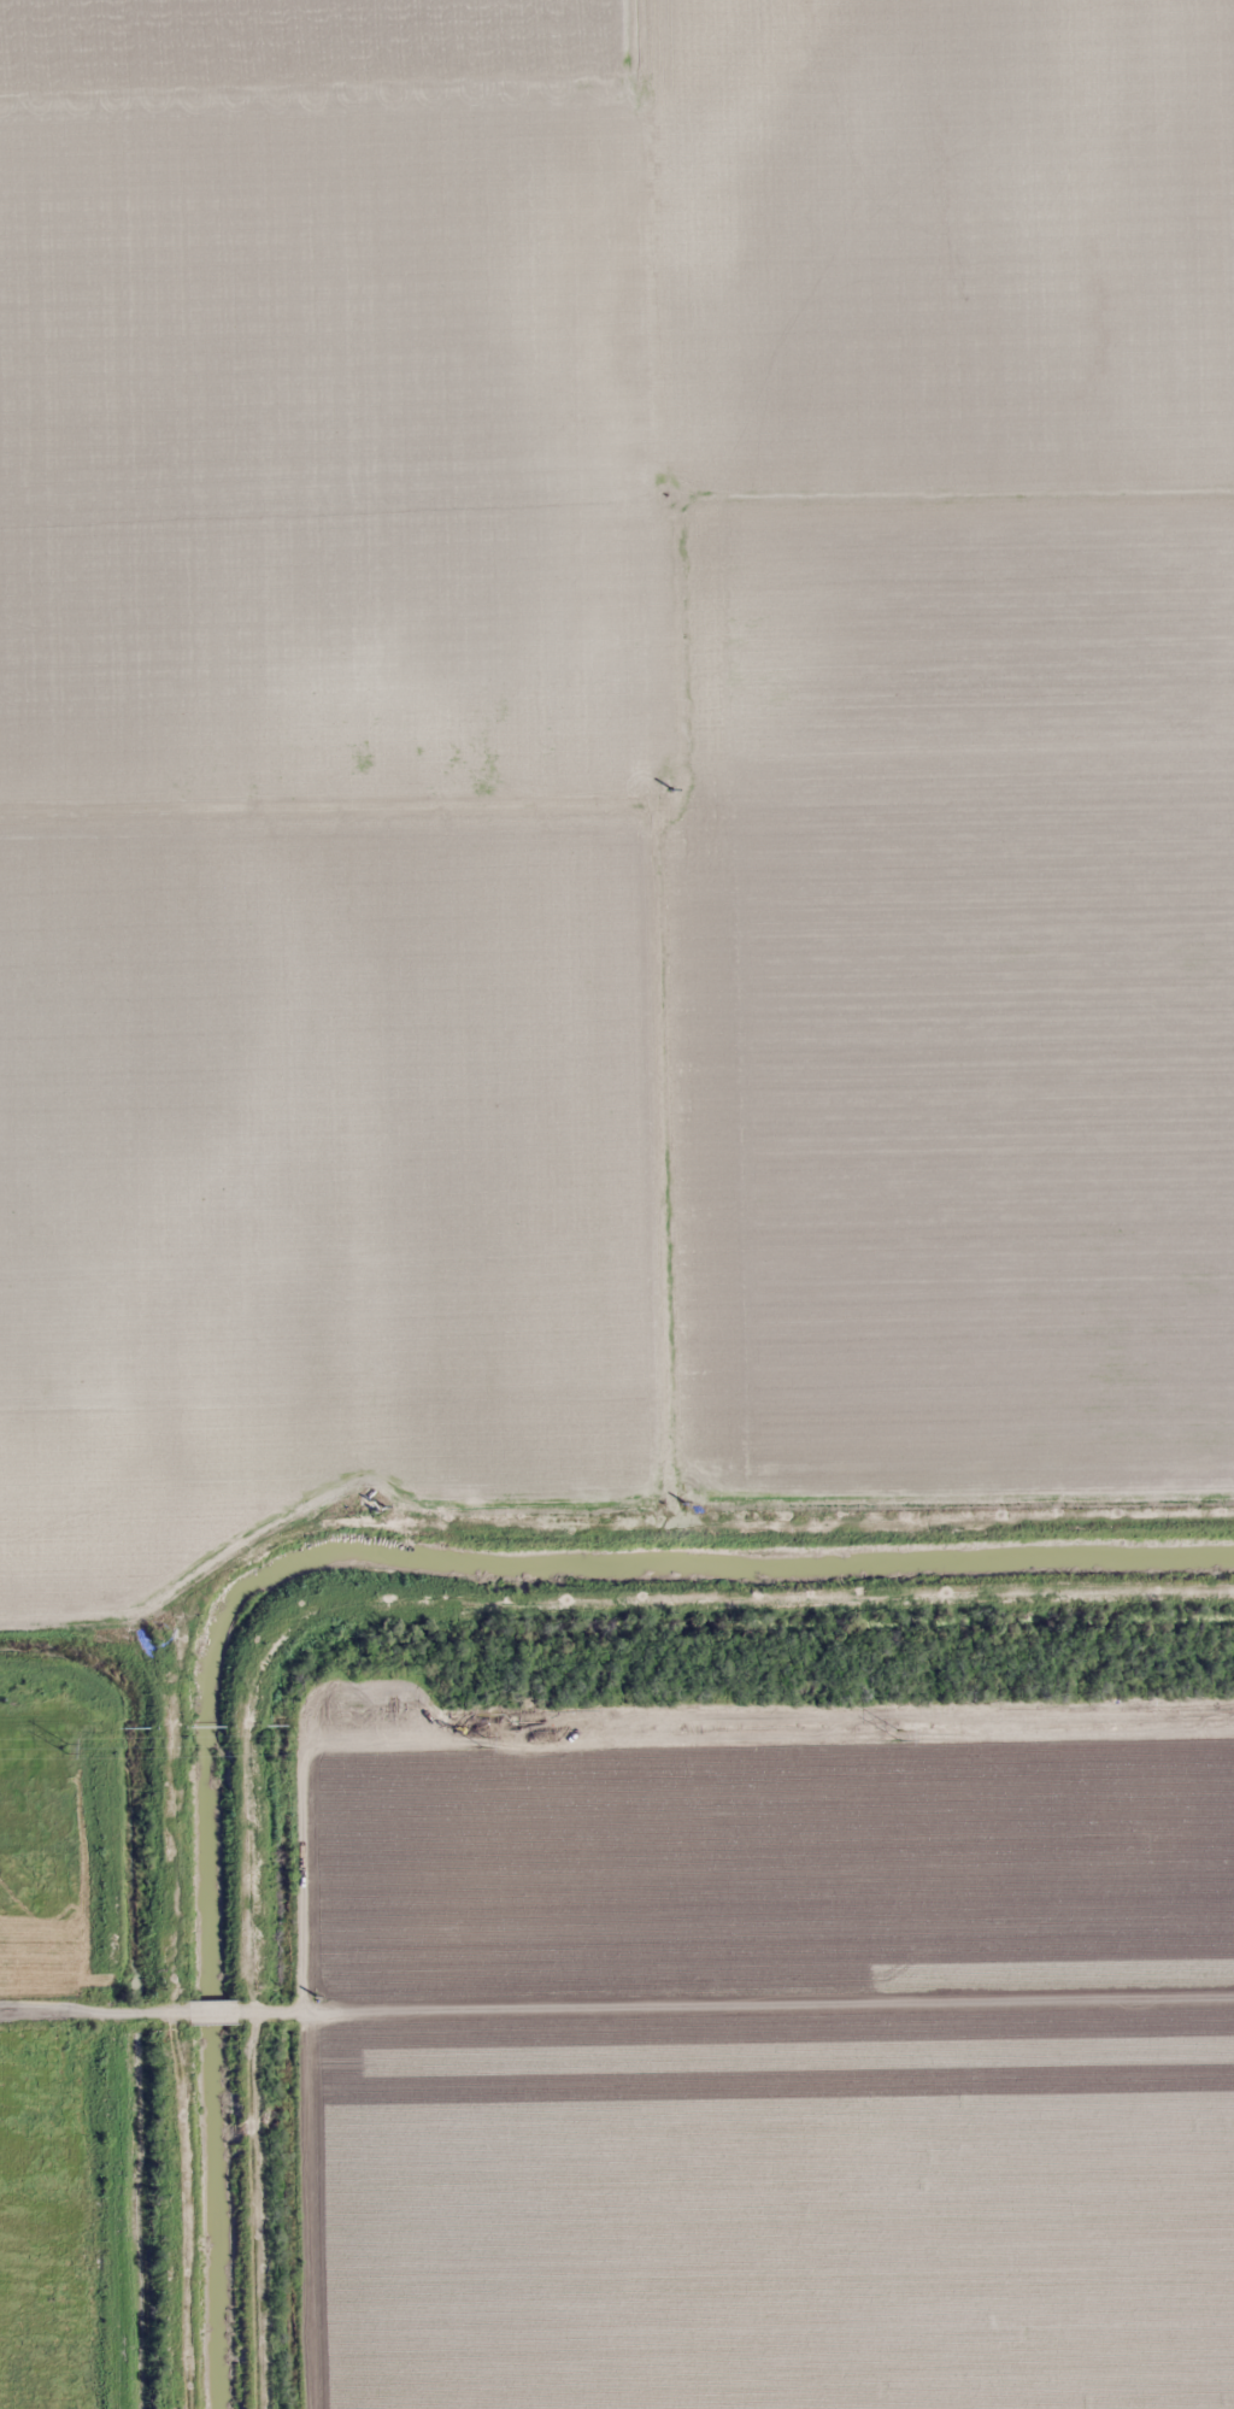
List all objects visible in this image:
power tower: (898, 1733)
power tower: (481, 1739)
power tower: (64, 1746)
road: (616, 2000)

